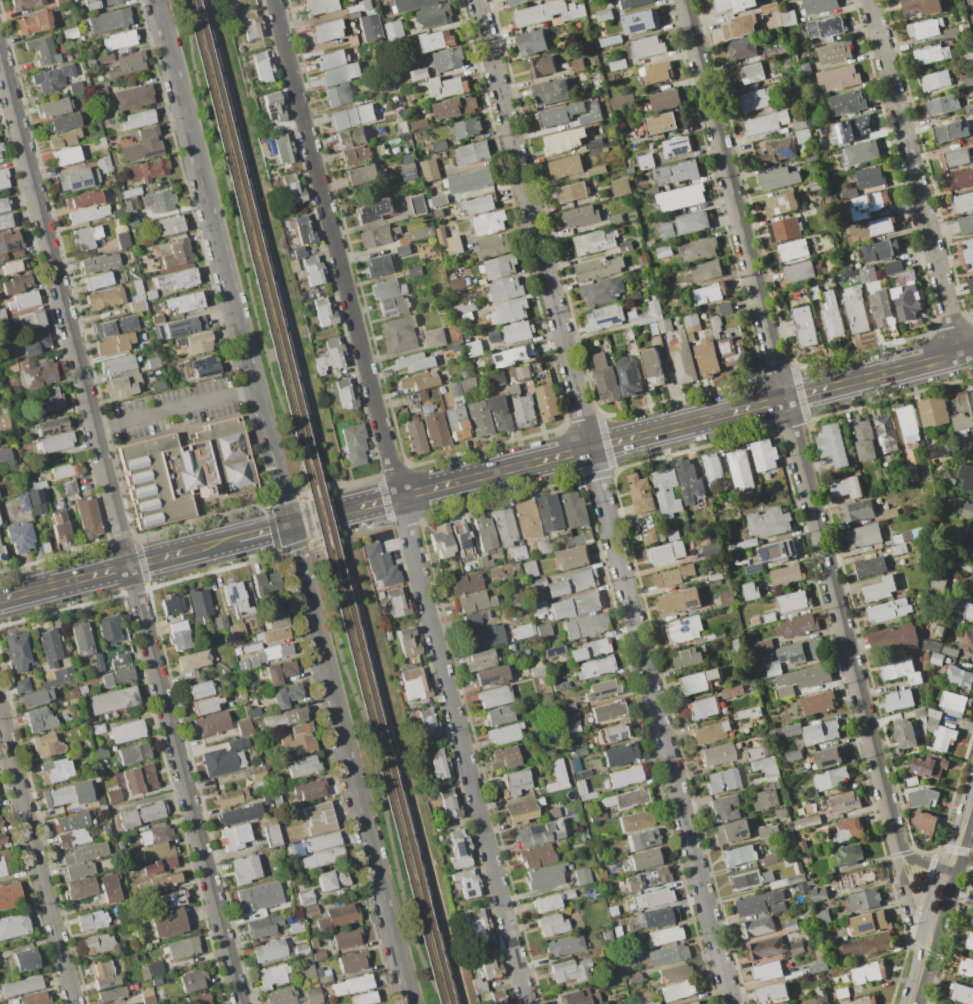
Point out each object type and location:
building: (238, 0)
building: (62, 2)
building: (518, 2)
building: (99, 3)
building: (630, 3)
building: (26, 4)
building: (412, 5)
building: (734, 5)
building: (818, 6)
building: (321, 7)
building: (360, 7)
building: (920, 7)
building: (770, 8)
building: (573, 12)
building: (80, 13)
building: (538, 13)
building: (604, 14)
building: (435, 16)
building: (788, 18)
rooftop solar panel: (638, 20)
building: (108, 21)
building: (557, 21)
building: (68, 22)
building: (641, 22)
building: (33, 24)
building: (253, 25)
building: (739, 26)
rooftop solar panel: (642, 27)
building: (372, 28)
rooftop solar panel: (811, 28)
building: (924, 28)
building: (825, 29)
building: (961, 30)
building: (327, 31)
building: (951, 32)
rooftop solar panel: (833, 33)
building: (71, 34)
building: (395, 34)
rooftop solar panel: (814, 38)
building: (120, 40)
building: (437, 40)
building: (610, 41)
building: (532, 42)
building: (647, 46)
building: (741, 48)
building: (44, 51)
building: (774, 52)
building: (834, 52)
building: (932, 54)
building: (107, 56)
building: (794, 58)
building: (448, 59)
building: (333, 60)
building: (786, 60)
building: (91, 62)
building: (128, 65)
building: (577, 65)
building: (617, 65)
building: (264, 66)
building: (540, 66)
building: (803, 70)
building: (657, 73)
building: (748, 73)
building: (341, 74)
building: (419, 74)
building: (53, 77)
building: (776, 78)
building: (838, 79)
building: (935, 80)
building: (967, 82)
building: (387, 84)
building: (448, 86)
building: (76, 88)
building: (968, 91)
building: (551, 92)
building: (101, 94)
building: (339, 94)
building: (133, 97)
building: (665, 100)
building: (752, 100)
building: (785, 100)
building: (398, 101)
building: (621, 101)
building: (846, 103)
building: (943, 105)
building: (54, 107)
building: (456, 107)
building: (968, 108)
building: (274, 109)
building: (592, 112)
building: (559, 114)
building: (353, 117)
building: (970, 117)
building: (138, 119)
building: (63, 122)
building: (799, 122)
building: (661, 123)
building: (766, 123)
building: (419, 124)
building: (853, 127)
building: (467, 129)
building: (106, 133)
building: (949, 133)
building: (803, 136)
building: (351, 138)
building: (64, 139)
building: (266, 140)
building: (563, 141)
building: (640, 142)
building: (596, 143)
building: (972, 143)
building: (828, 145)
building: (1, 146)
building: (143, 146)
building: (440, 146)
building: (677, 146)
building: (272, 147)
building: (285, 148)
building: (604, 149)
building: (264, 150)
building: (381, 150)
building: (777, 151)
building: (473, 153)
building: (859, 153)
building: (356, 155)
building: (0, 156)
building: (68, 156)
building: (810, 158)
building: (954, 158)
building: (645, 161)
building: (407, 162)
building: (104, 165)
building: (566, 167)
building: (146, 170)
building: (430, 170)
building: (630, 170)
building: (596, 171)
building: (620, 173)
building: (677, 173)
building: (363, 174)
rooftop solar panel: (408, 175)
building: (409, 175)
road: (915, 176)
building: (870, 177)
building: (4, 178)
building: (778, 178)
building: (76, 179)
building: (957, 180)
building: (470, 181)
rooftop solar panel: (84, 184)
building: (816, 184)
building: (275, 185)
rooftop solar panel: (73, 186)
building: (621, 188)
building: (294, 189)
building: (653, 190)
building: (130, 192)
building: (573, 192)
building: (849, 193)
building: (681, 197)
building: (832, 198)
building: (438, 200)
building: (73, 201)
building: (159, 201)
rooftop solar panel: (784, 202)
building: (480, 203)
building: (963, 203)
building: (5, 204)
building: (782, 204)
building: (127, 205)
building: (419, 205)
building: (869, 205)
building: (375, 211)
building: (820, 212)
building: (118, 213)
building: (88, 214)
building: (581, 216)
building: (131, 217)
building: (615, 219)
building: (7, 220)
building: (490, 222)
building: (687, 224)
building: (966, 224)
building: (170, 226)
building: (304, 229)
building: (872, 229)
building: (785, 230)
building: (379, 236)
building: (416, 236)
building: (87, 237)
building: (123, 240)
building: (813, 240)
building: (595, 241)
building: (449, 242)
building: (651, 243)
building: (10, 244)
park: (260, 245)
building: (494, 246)
rooftop solar panel: (7, 247)
building: (626, 247)
building: (403, 249)
building: (700, 250)
building: (793, 250)
building: (880, 250)
building: (664, 251)
building: (297, 253)
building: (381, 253)
building: (177, 254)
building: (966, 255)
building: (644, 259)
road: (224, 263)
building: (93, 264)
building: (294, 266)
building: (380, 266)
building: (14, 267)
building: (501, 267)
building: (893, 267)
building: (598, 268)
building: (314, 270)
building: (706, 271)
building: (415, 272)
building: (799, 272)
building: (868, 275)
building: (177, 279)
building: (98, 281)
building: (16, 283)
building: (457, 283)
building: (813, 283)
building: (971, 284)
building: (138, 289)
building: (388, 289)
building: (505, 289)
building: (603, 292)
building: (710, 293)
building: (816, 293)
building: (315, 294)
building: (150, 295)
building: (633, 296)
building: (106, 298)
building: (24, 301)
building: (186, 302)
building: (908, 303)
building: (137, 306)
building: (394, 306)
building: (465, 308)
building: (683, 308)
building: (726, 308)
building: (883, 310)
building: (325, 311)
building: (511, 311)
building: (646, 314)
building: (857, 314)
building: (467, 316)
building: (3, 317)
building: (605, 317)
building: (435, 318)
building: (832, 318)
building: (157, 319)
building: (33, 320)
rooftop solar panel: (613, 320)
building: (692, 320)
building: (115, 326)
building: (184, 326)
building: (665, 326)
building: (716, 326)
building: (805, 326)
building: (654, 328)
building: (517, 332)
building: (399, 333)
building: (630, 334)
building: (435, 338)
building: (35, 342)
building: (199, 343)
building: (113, 344)
building: (473, 345)
building: (457, 348)
building: (732, 352)
building: (332, 356)
building: (513, 356)
building: (683, 357)
building: (708, 358)
building: (154, 361)
building: (413, 362)
building: (119, 364)
building: (205, 366)
building: (652, 366)
building: (536, 367)
rooftop solar panel: (624, 371)
building: (32, 372)
building: (523, 372)
building: (630, 376)
building: (498, 378)
building: (606, 378)
rooftop solar panel: (628, 379)
building: (418, 381)
building: (158, 385)
building: (469, 386)
building: (972, 387)
building: (118, 388)
building: (972, 389)
rooftop solar panel: (624, 391)
building: (346, 393)
building: (422, 395)
building: (52, 398)
building: (548, 402)
building: (522, 407)
road: (175, 408)
parking lot: (173, 409)
building: (961, 410)
building: (4, 411)
building: (934, 412)
building: (501, 414)
road: (188, 417)
building: (479, 417)
road: (789, 417)
building: (907, 420)
building: (457, 422)
building: (5, 423)
road: (162, 424)
building: (51, 426)
building: (434, 426)
road: (180, 429)
building: (15, 431)
building: (886, 432)
building: (415, 436)
road: (632, 439)
building: (863, 439)
building: (56, 442)
building: (355, 443)
building: (832, 445)
building: (936, 450)
building: (5, 455)
building: (764, 455)
building: (906, 457)
building: (854, 466)
building: (740, 470)
building: (967, 470)
building: (64, 471)
building: (185, 471)
building: (713, 471)
building: (886, 473)
building: (877, 475)
building: (912, 475)
building: (689, 482)
building: (966, 484)
building: (846, 487)
building: (68, 488)
building: (666, 492)
building: (640, 493)
building: (731, 498)
road: (401, 501)
road: (605, 501)
building: (23, 502)
building: (37, 502)
railway: (315, 502)
railway: (323, 502)
road: (307, 509)
building: (576, 510)
building: (856, 511)
building: (967, 511)
building: (552, 513)
building: (890, 514)
building: (89, 517)
building: (527, 520)
building: (769, 522)
building: (59, 526)
traffic signals: (291, 526)
building: (504, 526)
road: (121, 528)
road: (264, 532)
building: (485, 532)
building: (916, 534)
building: (673, 535)
building: (589, 536)
building: (862, 536)
building: (906, 536)
building: (20, 537)
building: (967, 537)
building: (650, 538)
building: (463, 539)
building: (579, 539)
building: (896, 539)
building: (566, 540)
building: (442, 541)
building: (3, 542)
building: (915, 543)
road: (219, 544)
building: (743, 545)
building: (543, 546)
building: (712, 546)
building: (45, 548)
building: (898, 549)
building: (779, 550)
building: (519, 553)
building: (666, 553)
building: (572, 558)
building: (485, 562)
building: (869, 566)
building: (381, 567)
building: (964, 567)
building: (503, 569)
building: (530, 569)
building: (753, 569)
road: (100, 574)
building: (787, 574)
building: (716, 575)
building: (673, 576)
building: (580, 581)
building: (265, 583)
building: (466, 583)
building: (938, 583)
building: (535, 584)
building: (555, 588)
building: (879, 589)
building: (751, 591)
building: (972, 591)
rooftop solar panel: (233, 592)
building: (726, 597)
rooftop solar panel: (229, 598)
building: (237, 600)
building: (679, 600)
building: (793, 601)
building: (200, 602)
building: (398, 602)
building: (474, 602)
rooftop solar panel: (693, 604)
building: (172, 605)
building: (581, 605)
building: (539, 608)
building: (888, 611)
building: (967, 611)
building: (748, 614)
building: (185, 615)
building: (274, 615)
building: (943, 615)
building: (769, 617)
building: (473, 620)
building: (220, 622)
building: (586, 626)
building: (797, 626)
rooftop solar panel: (808, 628)
building: (109, 629)
building: (544, 630)
building: (684, 630)
building: (238, 631)
building: (524, 631)
rooftop solar panel: (787, 632)
building: (713, 634)
building: (273, 635)
building: (180, 636)
building: (487, 637)
building: (81, 638)
building: (967, 640)
building: (408, 642)
building: (894, 642)
building: (932, 645)
building: (50, 646)
building: (737, 646)
building: (760, 646)
building: (596, 647)
building: (252, 648)
building: (285, 650)
building: (554, 651)
building: (950, 651)
building: (271, 652)
building: (802, 652)
building: (19, 654)
building: (260, 656)
building: (689, 657)
building: (123, 658)
building: (481, 659)
building: (937, 659)
rooftop solar panel: (784, 660)
building: (193, 661)
rooftop solar panel: (794, 661)
building: (254, 662)
building: (98, 663)
building: (115, 663)
building: (596, 667)
building: (288, 668)
building: (773, 668)
building: (897, 669)
building: (538, 671)
building: (271, 674)
building: (65, 675)
building: (120, 675)
building: (490, 676)
building: (915, 679)
building: (959, 679)
building: (801, 680)
building: (698, 681)
building: (416, 683)
building: (22, 685)
building: (561, 686)
building: (83, 689)
building: (602, 689)
building: (201, 690)
building: (294, 692)
building: (732, 692)
building: (69, 693)
building: (82, 697)
building: (494, 697)
building: (36, 698)
building: (280, 698)
building: (899, 700)
building: (74, 701)
building: (113, 701)
building: (817, 703)
building: (954, 704)
building: (207, 705)
building: (569, 707)
building: (587, 709)
building: (703, 709)
building: (240, 711)
building: (609, 711)
building: (301, 712)
building: (919, 712)
building: (749, 713)
building: (255, 714)
building: (934, 714)
building: (499, 716)
building: (239, 718)
building: (280, 719)
building: (41, 720)
building: (572, 722)
building: (430, 723)
building: (212, 724)
building: (932, 724)
building: (245, 727)
building: (96, 730)
building: (793, 730)
building: (128, 731)
building: (821, 733)
building: (505, 734)
building: (611, 734)
building: (711, 734)
building: (904, 734)
building: (944, 738)
building: (303, 739)
building: (86, 744)
building: (48, 745)
building: (766, 749)
building: (575, 751)
building: (101, 754)
building: (134, 754)
building: (716, 754)
building: (755, 754)
building: (794, 755)
building: (619, 756)
building: (225, 758)
building: (505, 758)
building: (828, 758)
building: (439, 763)
road: (350, 764)
building: (574, 765)
building: (305, 766)
rooftop solar panel: (918, 766)
building: (930, 766)
building: (767, 769)
rooftop solar panel: (929, 769)
building: (57, 770)
park: (394, 773)
building: (560, 773)
building: (259, 774)
building: (583, 774)
building: (626, 776)
building: (146, 777)
building: (831, 779)
building: (723, 781)
building: (911, 782)
building: (516, 783)
building: (779, 784)
building: (112, 788)
building: (547, 788)
building: (310, 789)
building: (584, 791)
building: (64, 795)
building: (114, 796)
building: (231, 797)
building: (266, 797)
building: (922, 797)
building: (631, 798)
building: (766, 799)
building: (277, 801)
building: (608, 801)
rooftop solar panel: (849, 802)
building: (451, 803)
building: (843, 803)
building: (81, 805)
building: (520, 808)
building: (723, 808)
building: (808, 808)
building: (801, 811)
building: (564, 812)
building: (553, 813)
building: (781, 813)
building: (142, 814)
building: (237, 816)
building: (595, 816)
building: (318, 819)
building: (637, 820)
building: (74, 821)
building: (807, 822)
building: (926, 822)
building: (1, 827)
building: (849, 829)
building: (101, 830)
rooftop solar panel: (534, 830)
building: (731, 831)
building: (767, 831)
road: (962, 832)
building: (540, 833)
building: (156, 834)
rooftop solar panel: (742, 835)
building: (273, 836)
building: (234, 837)
building: (73, 838)
building: (643, 839)
building: (3, 841)
building: (323, 841)
rooftop solar panel: (745, 841)
building: (299, 847)
building: (803, 847)
building: (460, 849)
building: (157, 851)
building: (291, 851)
rooftop solar panel: (459, 851)
road: (37, 853)
building: (86, 853)
building: (541, 853)
building: (848, 854)
building: (131, 856)
building: (740, 856)
building: (783, 856)
building: (323, 859)
building: (644, 859)
building: (770, 859)
building: (807, 859)
building: (124, 860)
road: (915, 860)
building: (6, 863)
building: (788, 863)
building: (160, 865)
building: (797, 866)
building: (245, 869)
building: (78, 871)
building: (602, 874)
building: (660, 874)
building: (810, 875)
building: (546, 876)
building: (583, 876)
building: (768, 876)
building: (333, 879)
building: (795, 879)
building: (853, 879)
building: (164, 880)
building: (746, 880)
building: (468, 882)
building: (810, 883)
building: (628, 884)
building: (776, 884)
building: (81, 888)
building: (110, 888)
building: (803, 888)
road: (902, 889)
building: (271, 893)
building: (570, 894)
building: (818, 894)
building: (10, 895)
building: (656, 897)
road: (930, 897)
rooftop solar panel: (177, 898)
building: (306, 898)
building: (250, 899)
building: (168, 900)
building: (864, 900)
road: (946, 901)
rooftop solar panel: (180, 903)
building: (290, 903)
building: (547, 903)
building: (614, 903)
building: (759, 904)
rooftop solar panel: (168, 905)
building: (311, 910)
building: (616, 912)
building: (341, 915)
building: (661, 916)
building: (822, 917)
traffic signals: (910, 918)
building: (291, 919)
building: (624, 919)
building: (92, 921)
building: (168, 922)
building: (972, 922)
building: (869, 923)
building: (14, 925)
building: (481, 925)
building: (552, 925)
building: (263, 926)
building: (791, 926)
building: (295, 927)
building: (758, 927)
building: (666, 935)
building: (795, 936)
building: (347, 938)
building: (969, 941)
building: (314, 942)
building: (98, 944)
building: (565, 945)
building: (867, 945)
building: (183, 948)
building: (766, 948)
building: (797, 948)
building: (269, 950)
building: (302, 950)
building: (627, 950)
building: (668, 955)
building: (319, 956)
building: (822, 959)
building: (25, 960)
building: (353, 961)
building: (490, 965)
building: (308, 967)
building: (814, 967)
building: (156, 968)
road: (921, 968)
building: (966, 968)
building: (103, 969)
rooftop solar panel: (964, 969)
building: (571, 971)
building: (767, 971)
building: (320, 972)
building: (326, 972)
building: (144, 973)
building: (616, 973)
building: (674, 973)
building: (868, 973)
building: (274, 976)
building: (124, 977)
building: (634, 978)
building: (325, 979)
building: (194, 980)
building: (156, 981)
building: (107, 982)
building: (353, 985)
building: (478, 986)
building: (21, 987)
building: (680, 990)
building: (160, 993)
building: (841, 993)
building: (961, 993)
building: (113, 994)
building: (773, 994)
building: (147, 996)
building: (281, 996)
building: (313, 996)
building: (500, 997)
building: (579, 997)
building: (35, 998)
building: (365, 998)
building: (197, 999)
building: (863, 1001)
building: (653, 1002)
building: (695, 1002)
building: (129, 1003)
building: (786, 1003)

